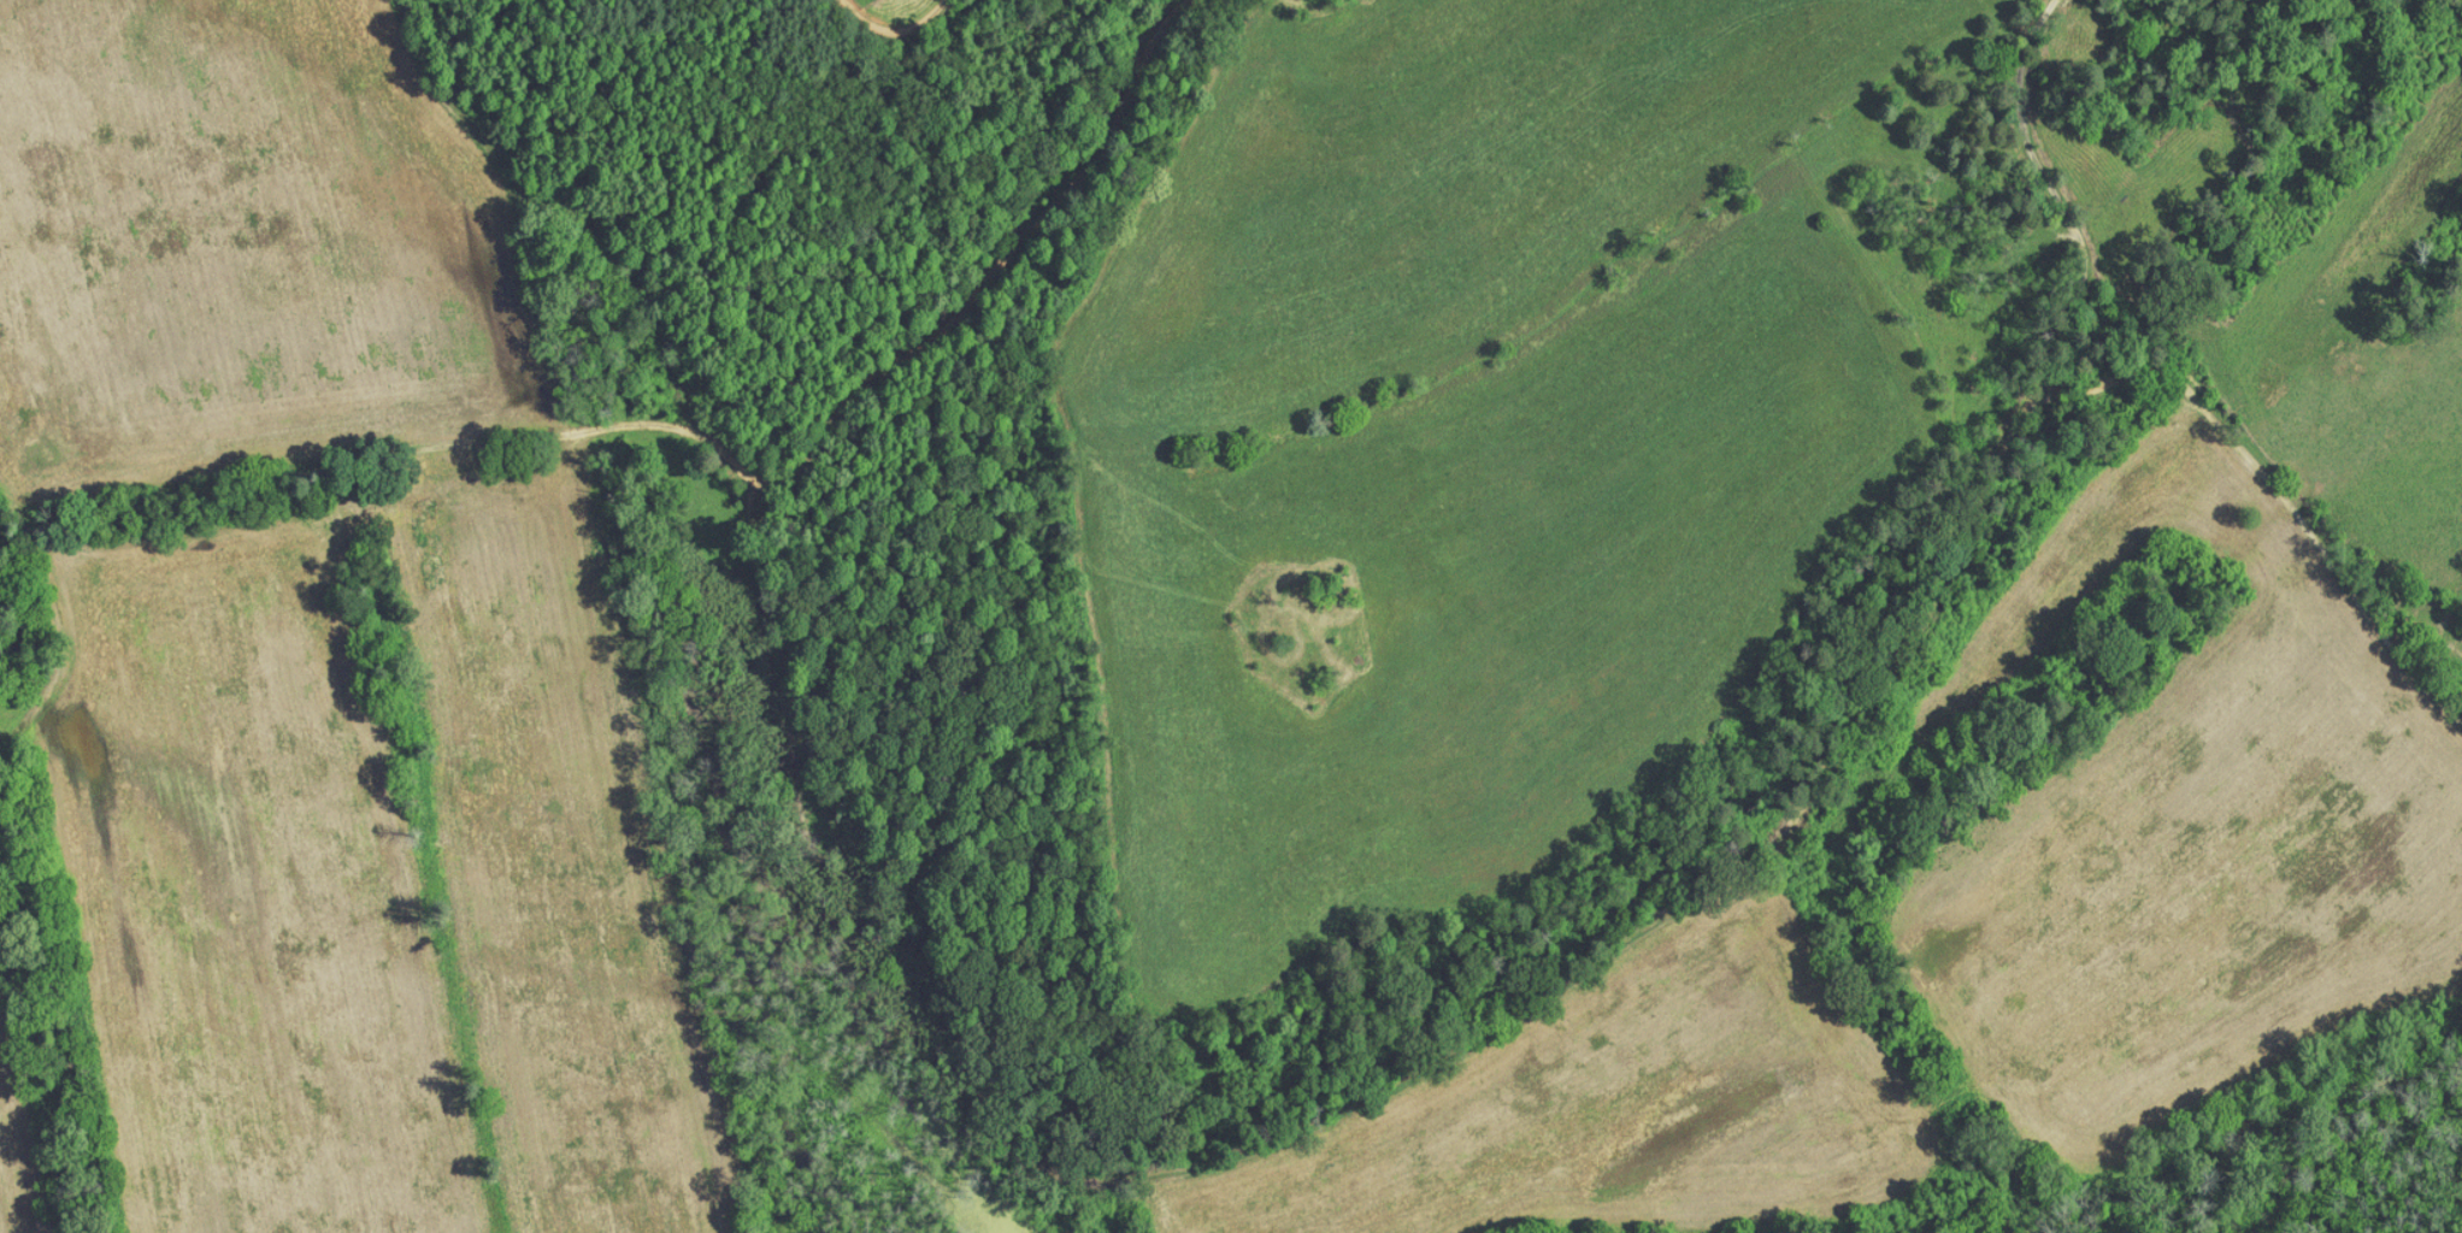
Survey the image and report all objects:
road: (896, 30)
road: (2027, 188)
road: (960, 279)
road: (329, 485)
road: (19, 597)
road: (1285, 1139)

